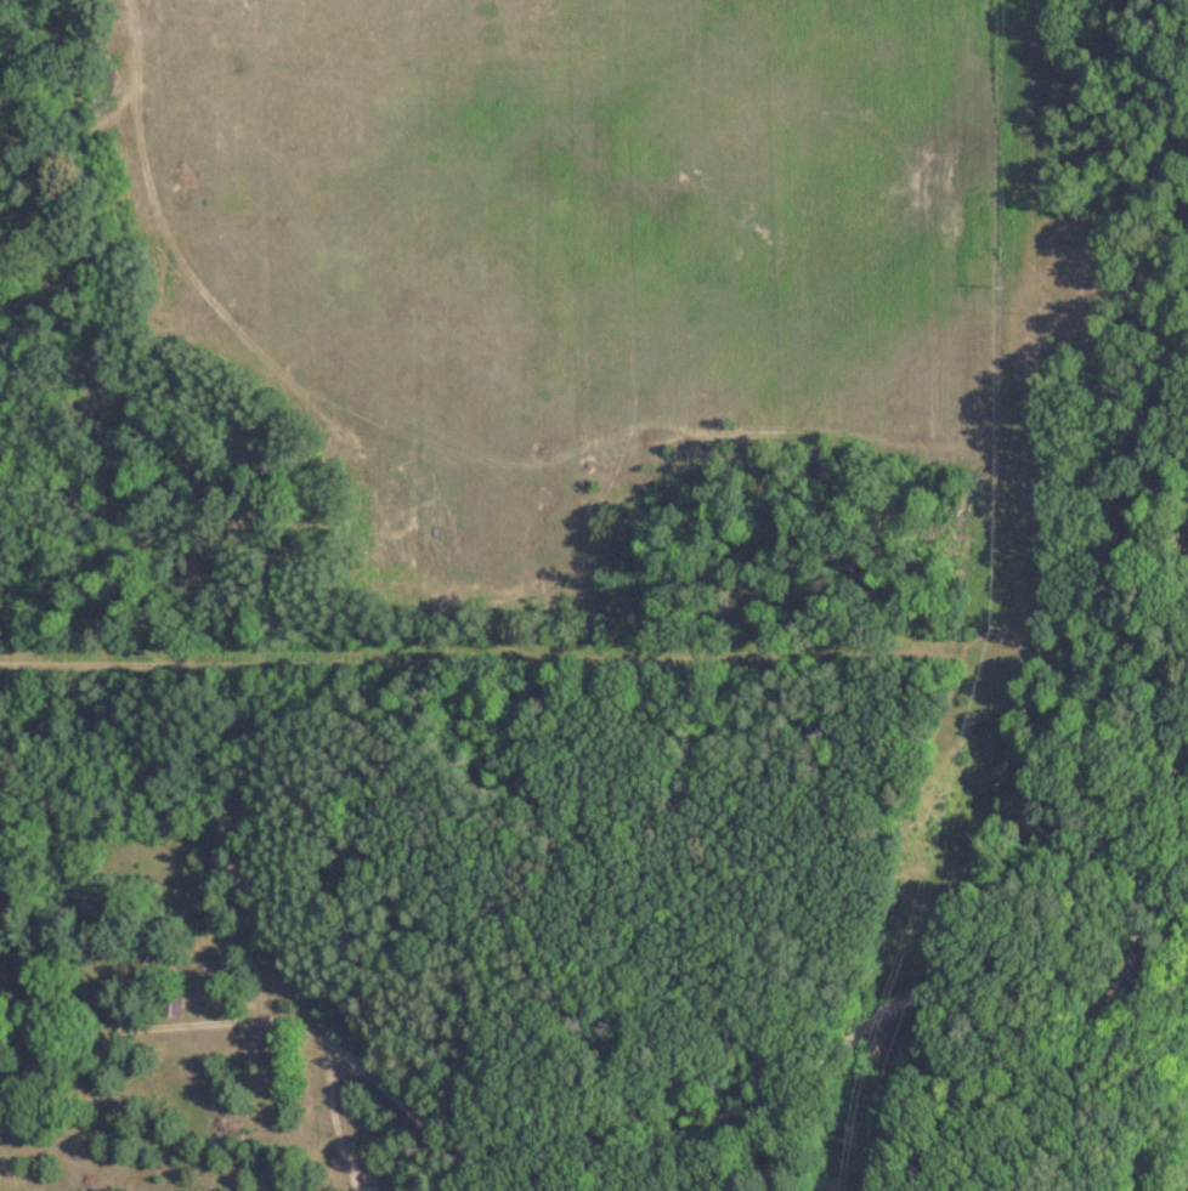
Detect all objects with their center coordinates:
road: (537, 1142)

